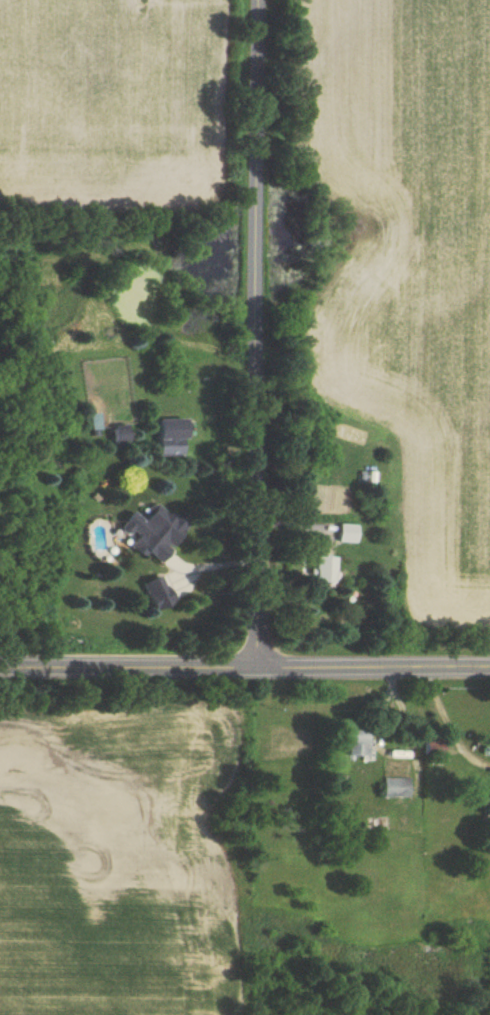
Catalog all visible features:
road: (258, 336)
building: (121, 434)
building: (170, 437)
building: (368, 478)
building: (345, 533)
building: (153, 535)
building: (318, 569)
road: (244, 672)
building: (352, 743)
building: (394, 787)
building: (485, 804)

